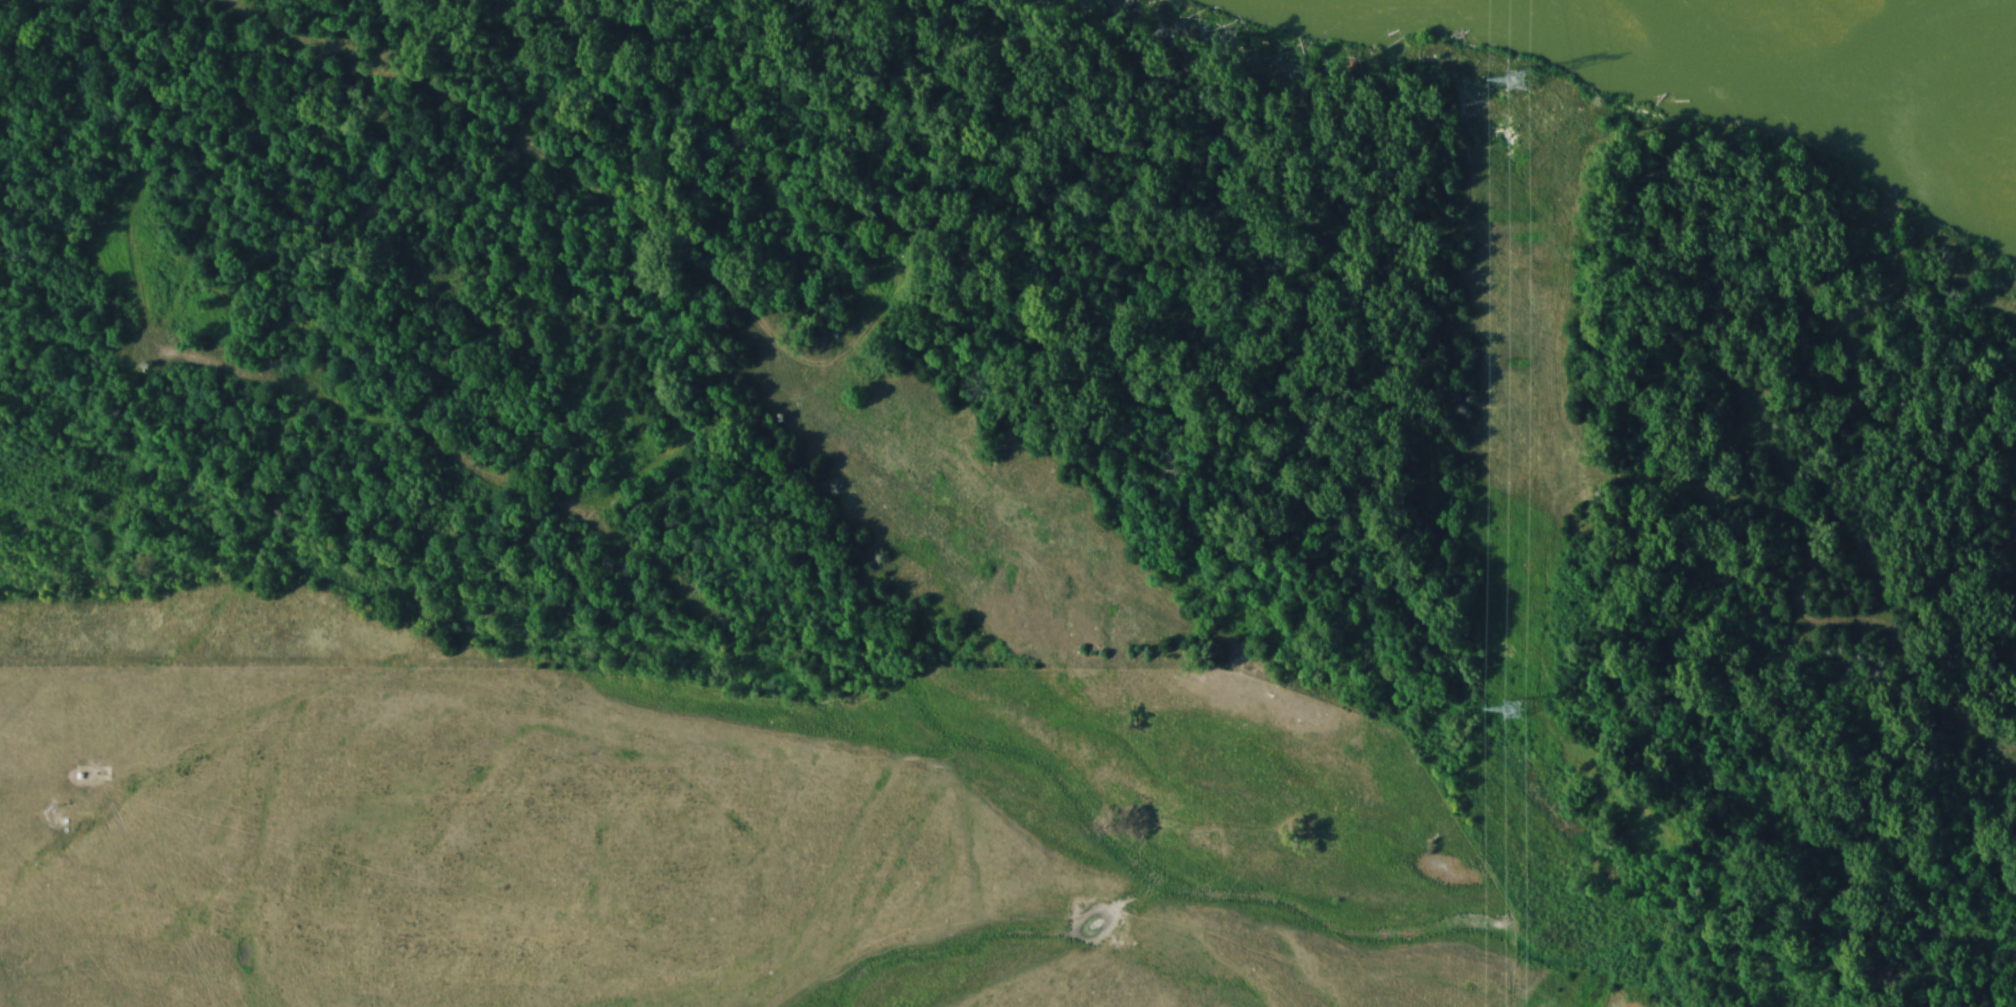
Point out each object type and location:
river: (1947, 26)
power tower: (1514, 81)
power tower: (1513, 710)

